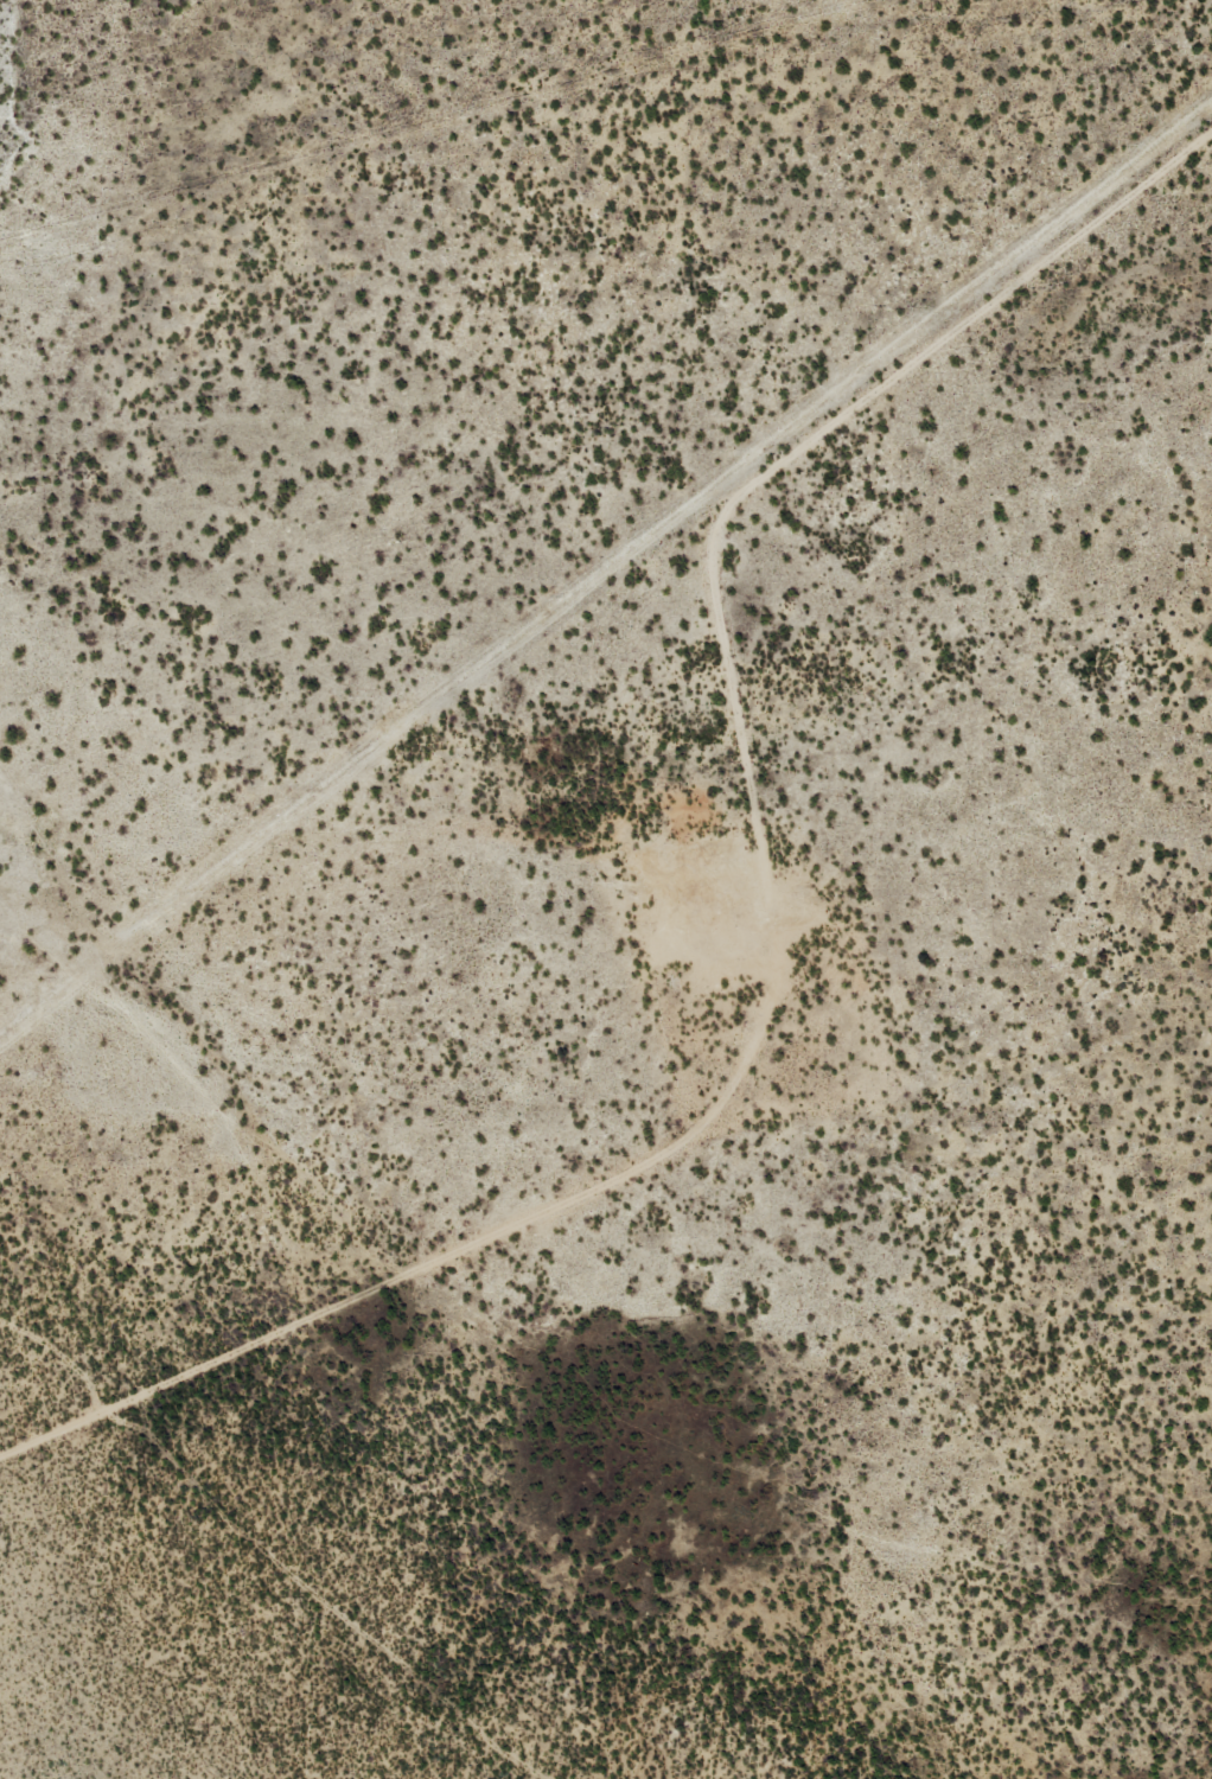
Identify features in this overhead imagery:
road: (430, 1258)
road: (292, 1543)

